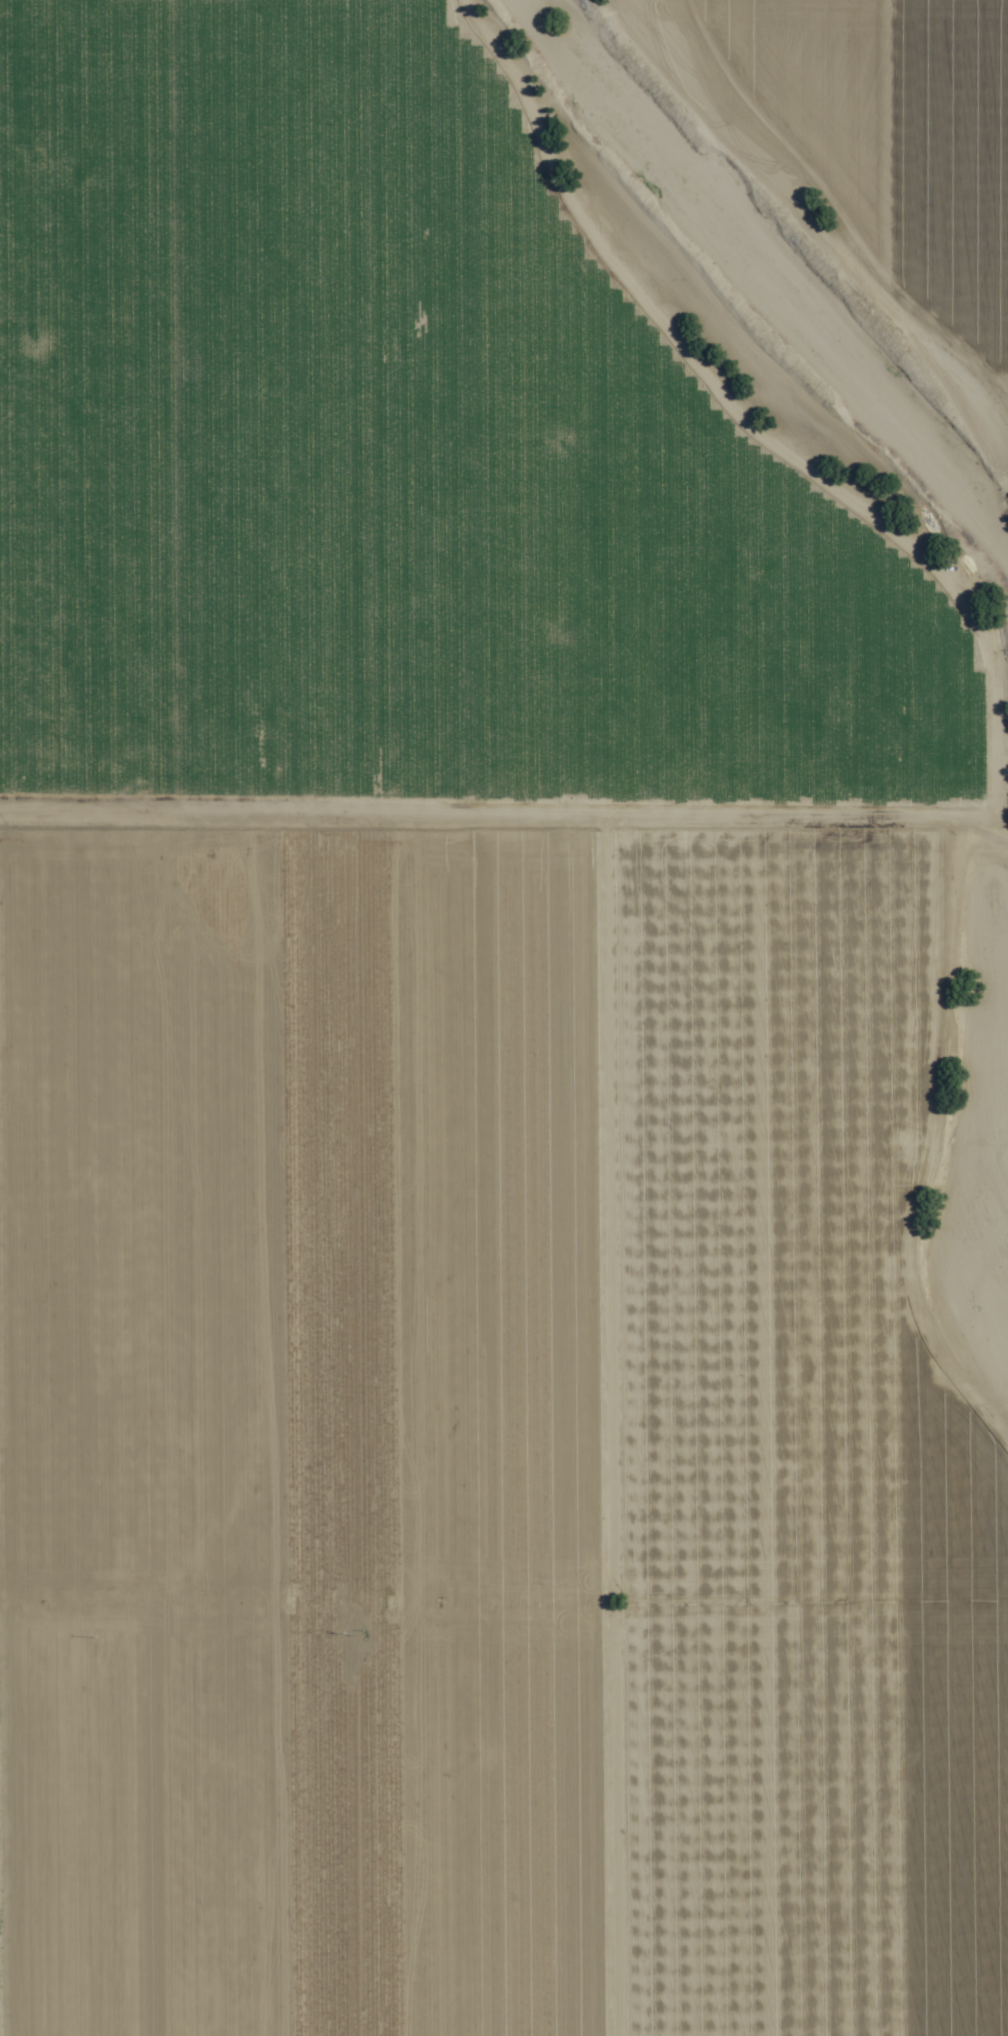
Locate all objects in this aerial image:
road: (504, 811)
crop: (497, 1016)

